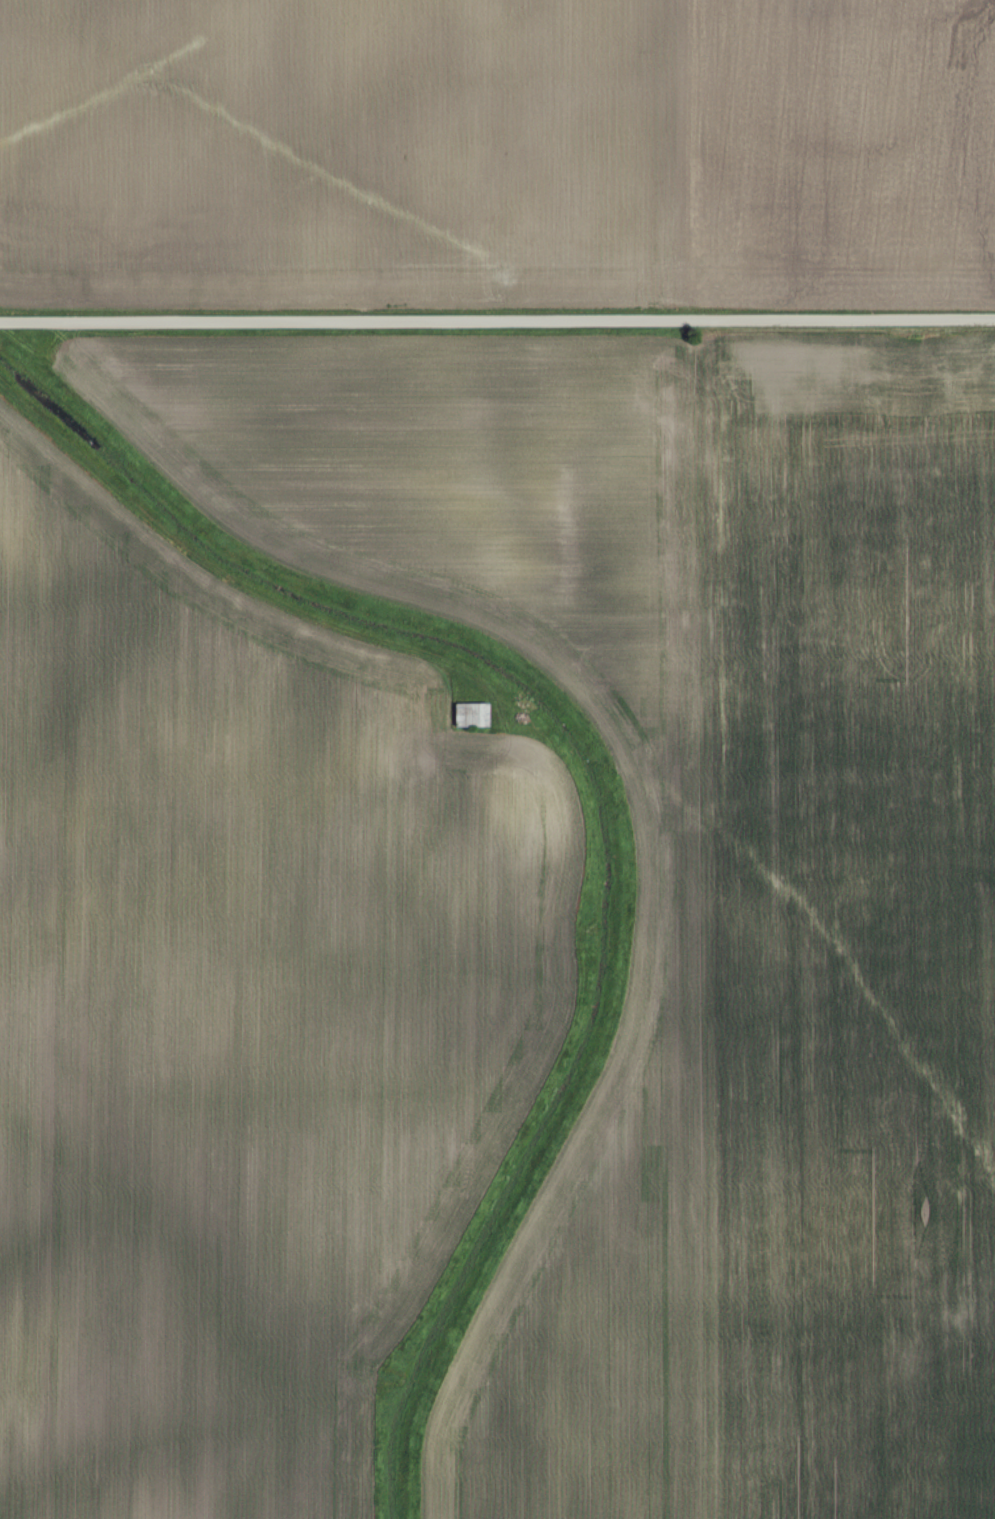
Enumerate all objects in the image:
road: (497, 320)

